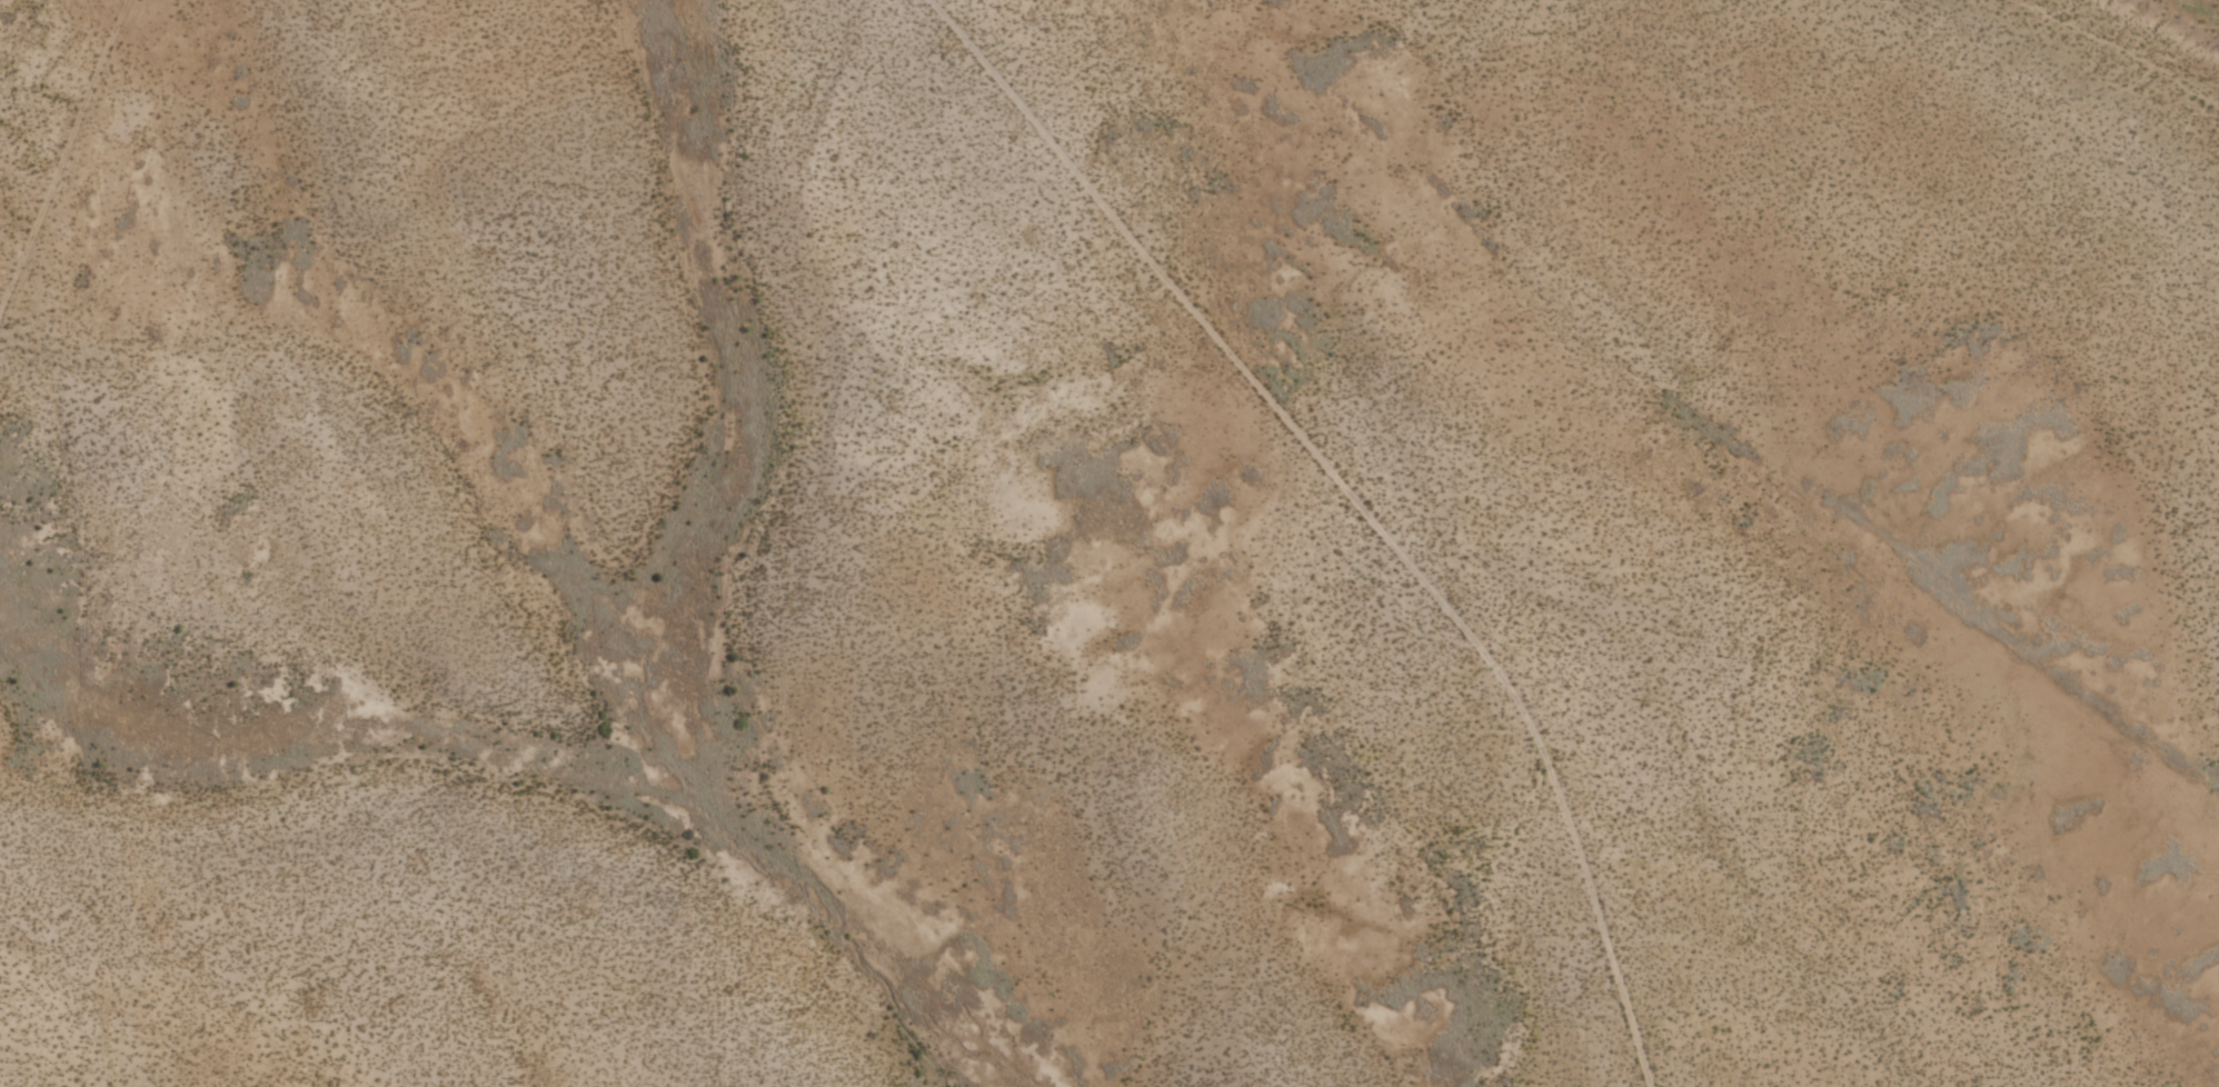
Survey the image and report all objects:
road: (1395, 499)

